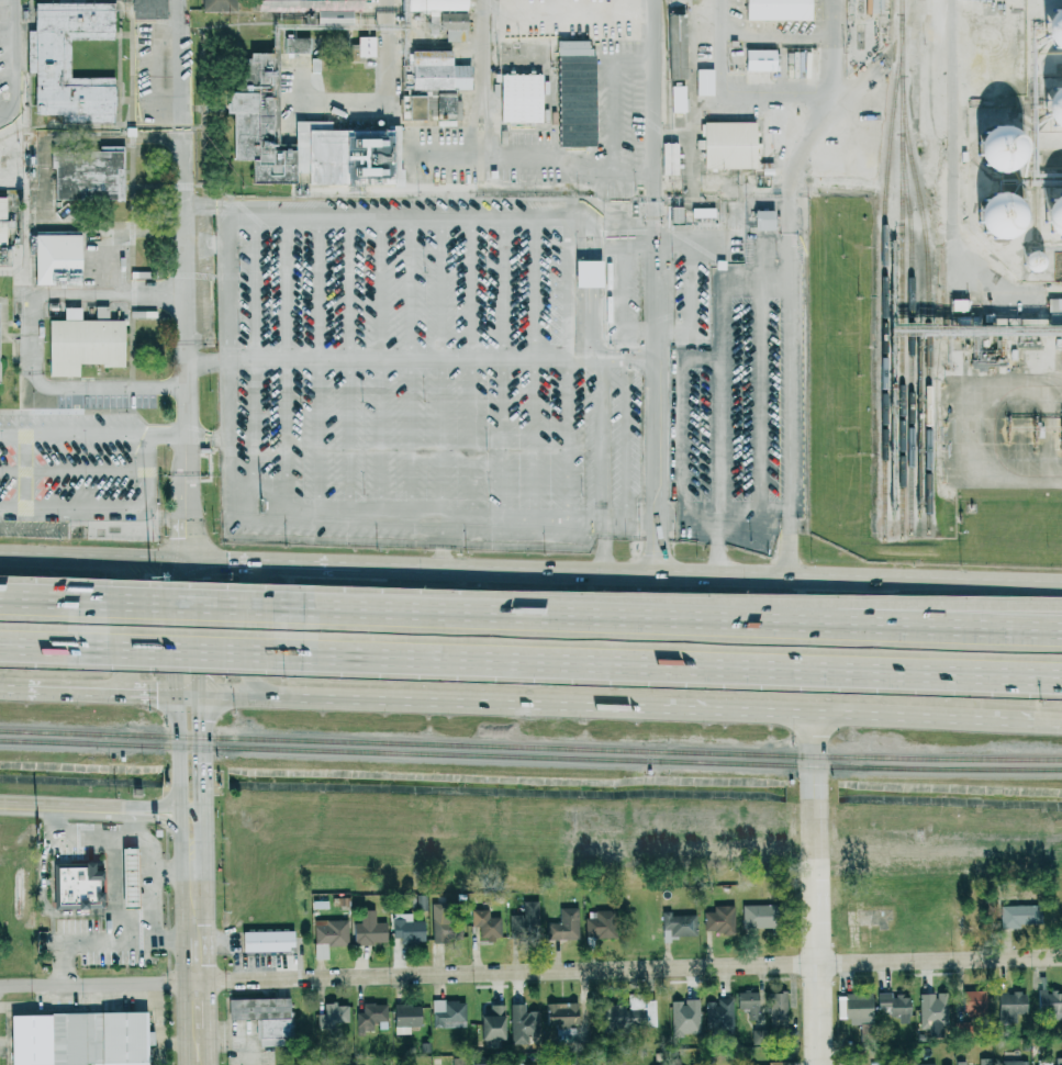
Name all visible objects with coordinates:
building: (434, 4)
building: (217, 5)
railway: (901, 7)
building: (147, 9)
building: (314, 9)
building: (778, 9)
road: (15, 12)
building: (432, 22)
road: (8, 24)
building: (451, 24)
building: (1052, 29)
building: (295, 45)
building: (365, 46)
building: (675, 46)
building: (46, 54)
building: (761, 59)
building: (436, 71)
road: (15, 75)
road: (653, 78)
building: (705, 81)
road: (774, 91)
building: (575, 92)
building: (521, 98)
road: (615, 98)
building: (680, 99)
building: (446, 105)
building: (414, 107)
building: (1052, 107)
building: (304, 141)
building: (729, 144)
building: (996, 148)
road: (498, 152)
building: (669, 158)
building: (88, 176)
road: (653, 178)
building: (997, 215)
building: (1052, 216)
road: (181, 217)
building: (763, 220)
building: (2, 221)
road: (696, 245)
building: (56, 258)
building: (1030, 260)
railway: (927, 271)
building: (586, 273)
railway: (884, 276)
road: (657, 280)
road: (625, 281)
road: (774, 285)
road: (228, 290)
road: (111, 295)
parking lot: (623, 299)
parking lot: (692, 303)
railway: (910, 303)
road: (691, 305)
building: (1054, 306)
building: (100, 313)
road: (591, 316)
road: (790, 326)
road: (641, 333)
railway: (901, 335)
road: (760, 340)
road: (35, 341)
building: (82, 344)
road: (423, 359)
road: (253, 366)
road: (287, 367)
road: (318, 367)
road: (350, 367)
road: (381, 367)
road: (411, 367)
road: (443, 367)
road: (472, 368)
road: (503, 368)
road: (536, 368)
road: (569, 368)
parking lot: (417, 378)
road: (115, 384)
parking lot: (742, 404)
road: (682, 412)
road: (719, 433)
road: (94, 436)
road: (209, 436)
road: (601, 441)
road: (627, 441)
road: (659, 466)
road: (75, 470)
road: (25, 471)
road: (148, 471)
road: (189, 485)
road: (75, 507)
road: (701, 507)
road: (740, 508)
road: (775, 508)
road: (483, 518)
road: (585, 519)
road: (615, 520)
road: (189, 535)
road: (717, 539)
road: (605, 543)
road: (88, 551)
traffic signals: (177, 556)
traffic signals: (202, 556)
road: (217, 556)
road: (305, 559)
road: (706, 570)
road: (328, 612)
road: (859, 615)
road: (134, 623)
road: (202, 625)
road: (246, 628)
road: (859, 629)
road: (473, 664)
road: (1004, 680)
road: (178, 684)
road: (14, 690)
road: (76, 692)
road: (150, 694)
traffic signals: (179, 695)
road: (191, 695)
traffic signals: (203, 695)
road: (232, 696)
road: (648, 707)
road: (1048, 721)
railway: (530, 746)
road: (203, 754)
railway: (530, 758)
road: (90, 810)
road: (192, 814)
road: (141, 827)
road: (181, 842)
road: (45, 871)
road: (165, 871)
building: (131, 878)
gas station: (131, 878)
building: (78, 886)
road: (815, 888)
road: (112, 890)
road: (147, 890)
road: (206, 897)
road: (182, 901)
building: (756, 916)
building: (1019, 916)
building: (524, 918)
building: (719, 919)
building: (446, 922)
building: (599, 923)
building: (485, 924)
building: (563, 924)
building: (679, 926)
building: (406, 928)
building: (368, 929)
building: (328, 935)
road: (164, 939)
building: (267, 940)
road: (182, 957)
road: (622, 968)
road: (90, 982)
building: (748, 1001)
building: (973, 1001)
building: (1049, 1001)
road: (210, 1004)
building: (1010, 1005)
building: (894, 1006)
building: (776, 1009)
building: (856, 1009)
building: (929, 1010)
building: (629, 1012)
building: (333, 1013)
building: (448, 1013)
building: (561, 1016)
building: (369, 1017)
building: (684, 1017)
building: (264, 1018)
building: (405, 1018)
building: (719, 1018)
road: (183, 1023)
building: (491, 1025)
building: (523, 1025)
building: (78, 1038)
road: (211, 1045)
building: (459, 1061)
building: (984, 1061)
building: (1059, 1061)
building: (1014, 1062)
building: (961, 1063)
building: (476, 1064)
building: (781, 1064)
building: (923, 1064)

